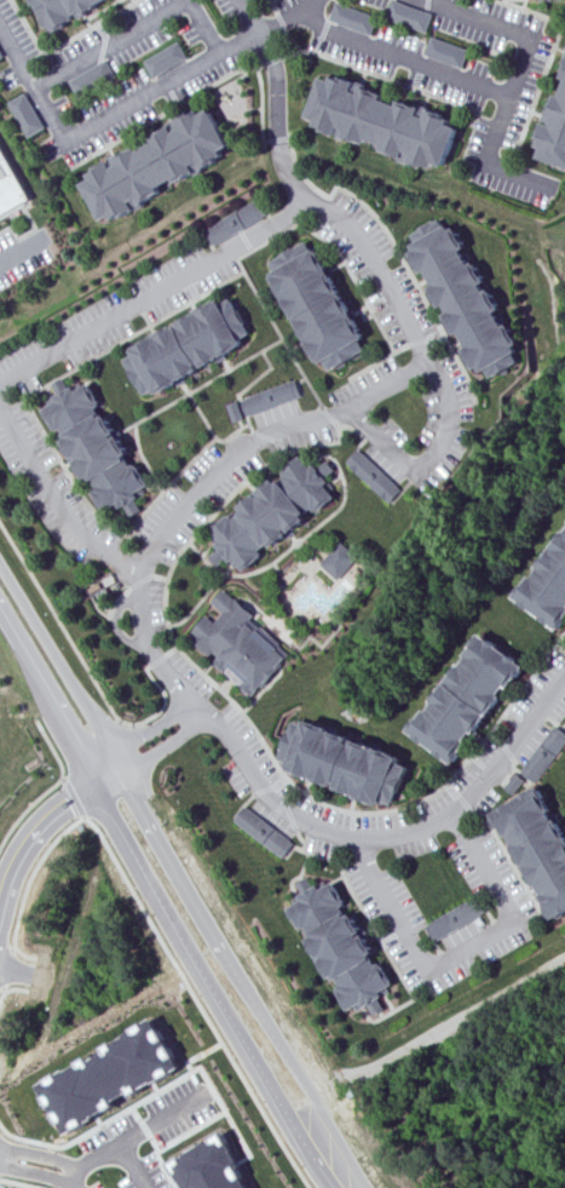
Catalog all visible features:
building: (553, 0)
building: (559, 0)
building: (62, 11)
building: (409, 16)
building: (352, 19)
road: (137, 28)
building: (448, 52)
building: (0, 56)
building: (0, 58)
building: (163, 61)
building: (564, 76)
building: (91, 80)
road: (484, 88)
road: (273, 101)
road: (134, 102)
building: (25, 115)
building: (387, 120)
building: (557, 132)
road: (485, 163)
building: (157, 165)
building: (10, 186)
building: (235, 222)
road: (23, 249)
parking lot: (23, 254)
building: (472, 298)
building: (323, 305)
road: (419, 337)
building: (194, 345)
road: (391, 383)
building: (275, 397)
building: (237, 412)
building: (100, 447)
building: (374, 475)
road: (57, 492)
building: (275, 515)
building: (338, 559)
building: (547, 585)
road: (149, 643)
building: (242, 644)
road: (83, 659)
road: (60, 662)
road: (47, 695)
building: (463, 699)
road: (198, 710)
road: (152, 729)
road: (163, 750)
building: (543, 753)
building: (341, 763)
road: (108, 771)
road: (63, 779)
road: (51, 787)
road: (75, 798)
road: (35, 826)
building: (264, 831)
road: (393, 837)
building: (535, 848)
road: (30, 883)
building: (454, 919)
building: (338, 948)
road: (461, 951)
road: (242, 974)
road: (211, 986)
road: (7, 991)
road: (197, 1002)
building: (111, 1075)
road: (155, 1092)
road: (158, 1121)
road: (110, 1150)
road: (34, 1166)
building: (214, 1166)
road: (18, 1182)

